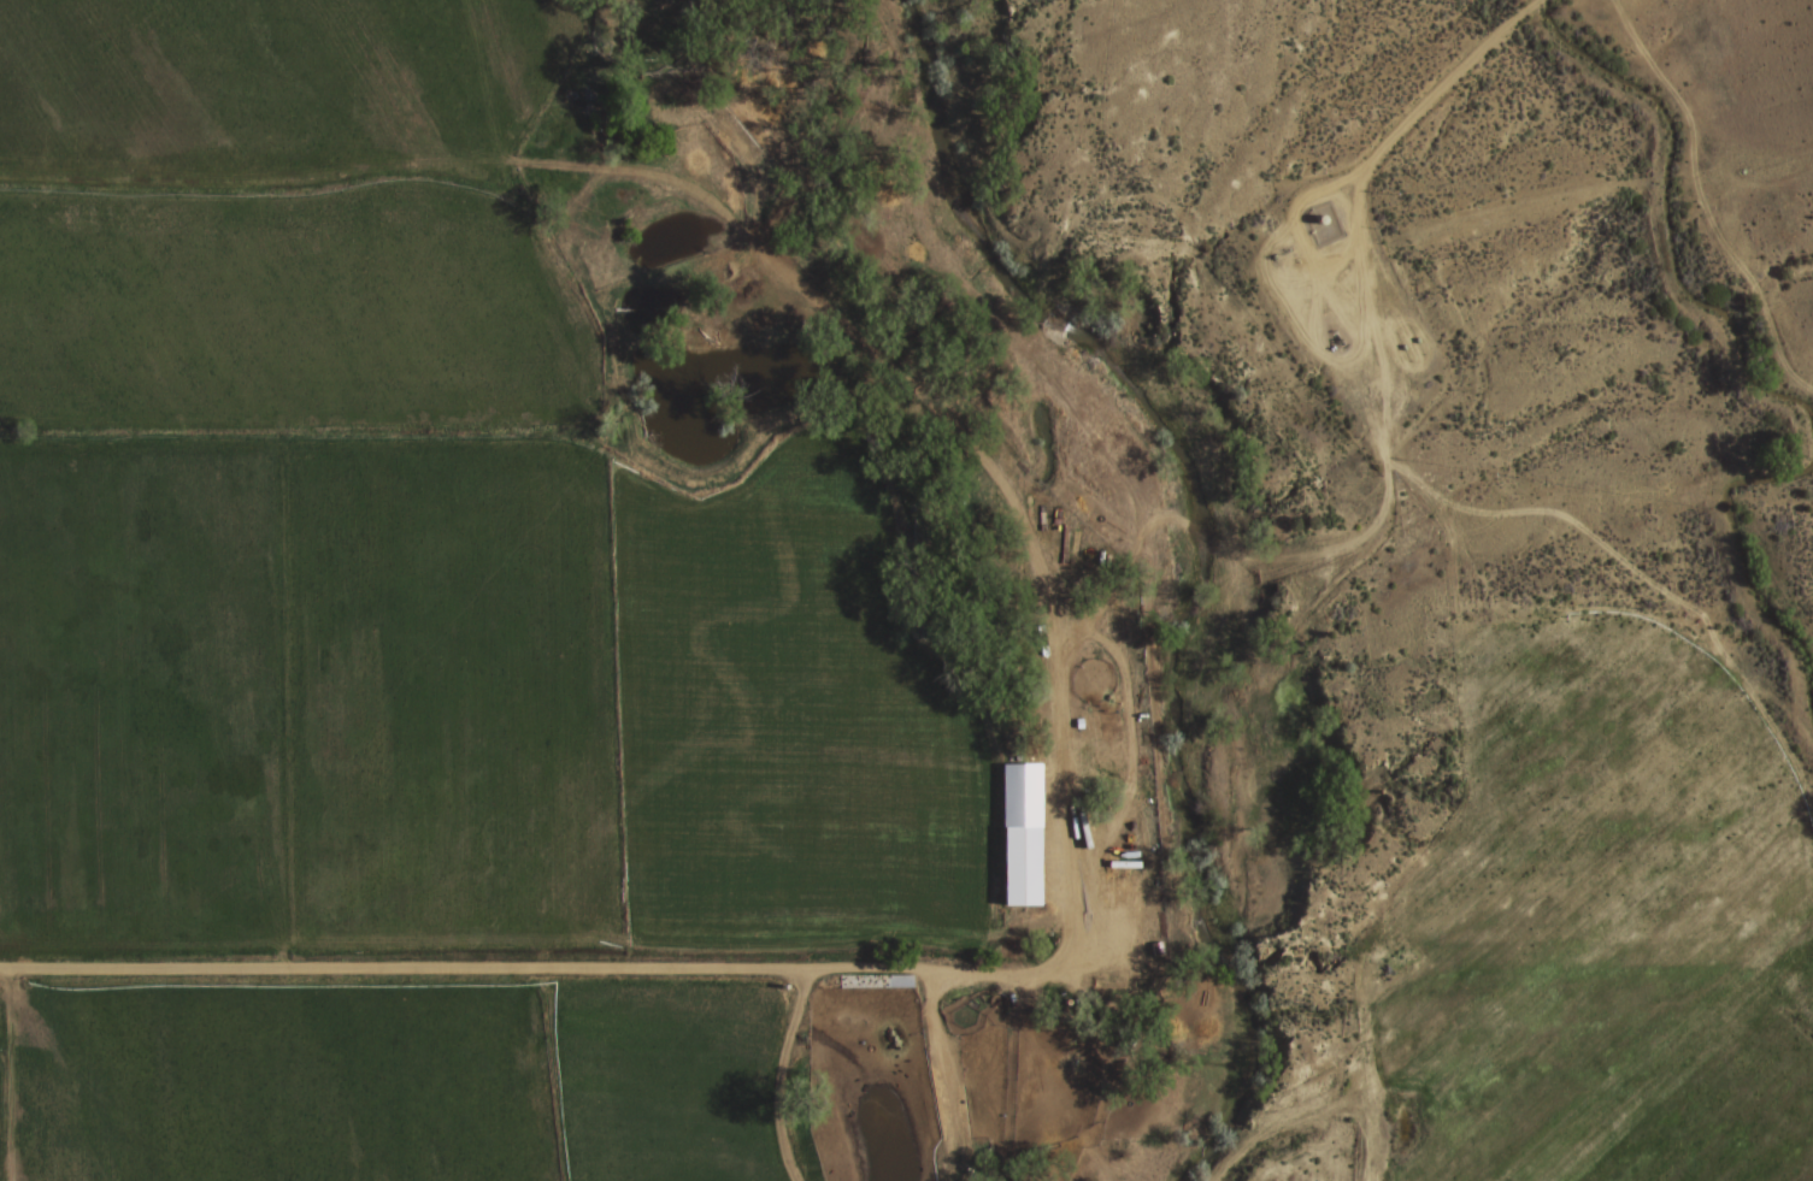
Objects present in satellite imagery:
building: (1069, 545)
river: (1217, 559)
building: (1018, 866)
road: (529, 964)

